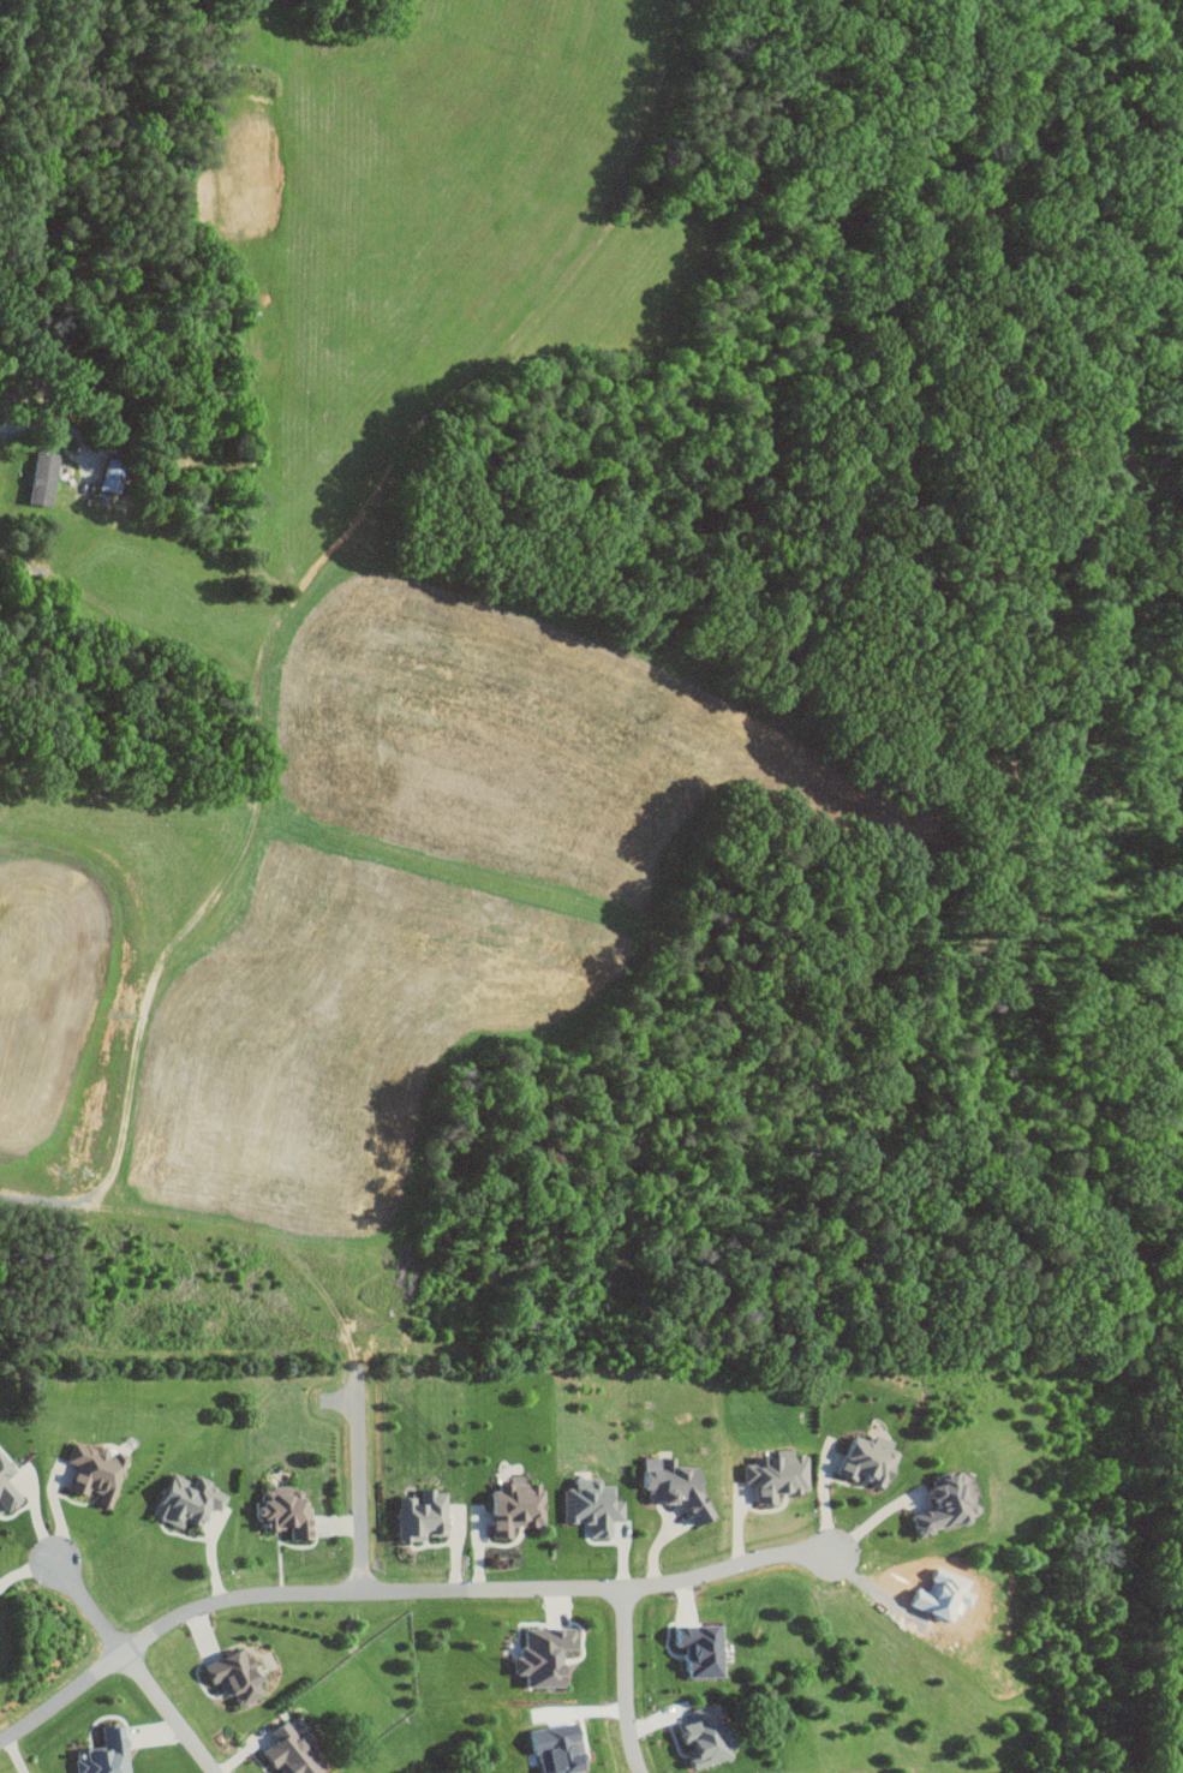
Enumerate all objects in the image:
road: (42, 441)
building: (115, 473)
building: (47, 477)
building: (873, 1461)
building: (100, 1471)
building: (781, 1473)
building: (10, 1484)
building: (679, 1484)
road: (357, 1488)
road: (823, 1498)
building: (192, 1500)
building: (954, 1502)
building: (597, 1505)
building: (289, 1510)
building: (426, 1515)
road: (873, 1520)
road: (471, 1594)
road: (91, 1613)
building: (705, 1648)
building: (550, 1656)
building: (241, 1674)
road: (626, 1683)
road: (62, 1701)
road: (169, 1714)
building: (712, 1733)
building: (297, 1748)
building: (109, 1754)

